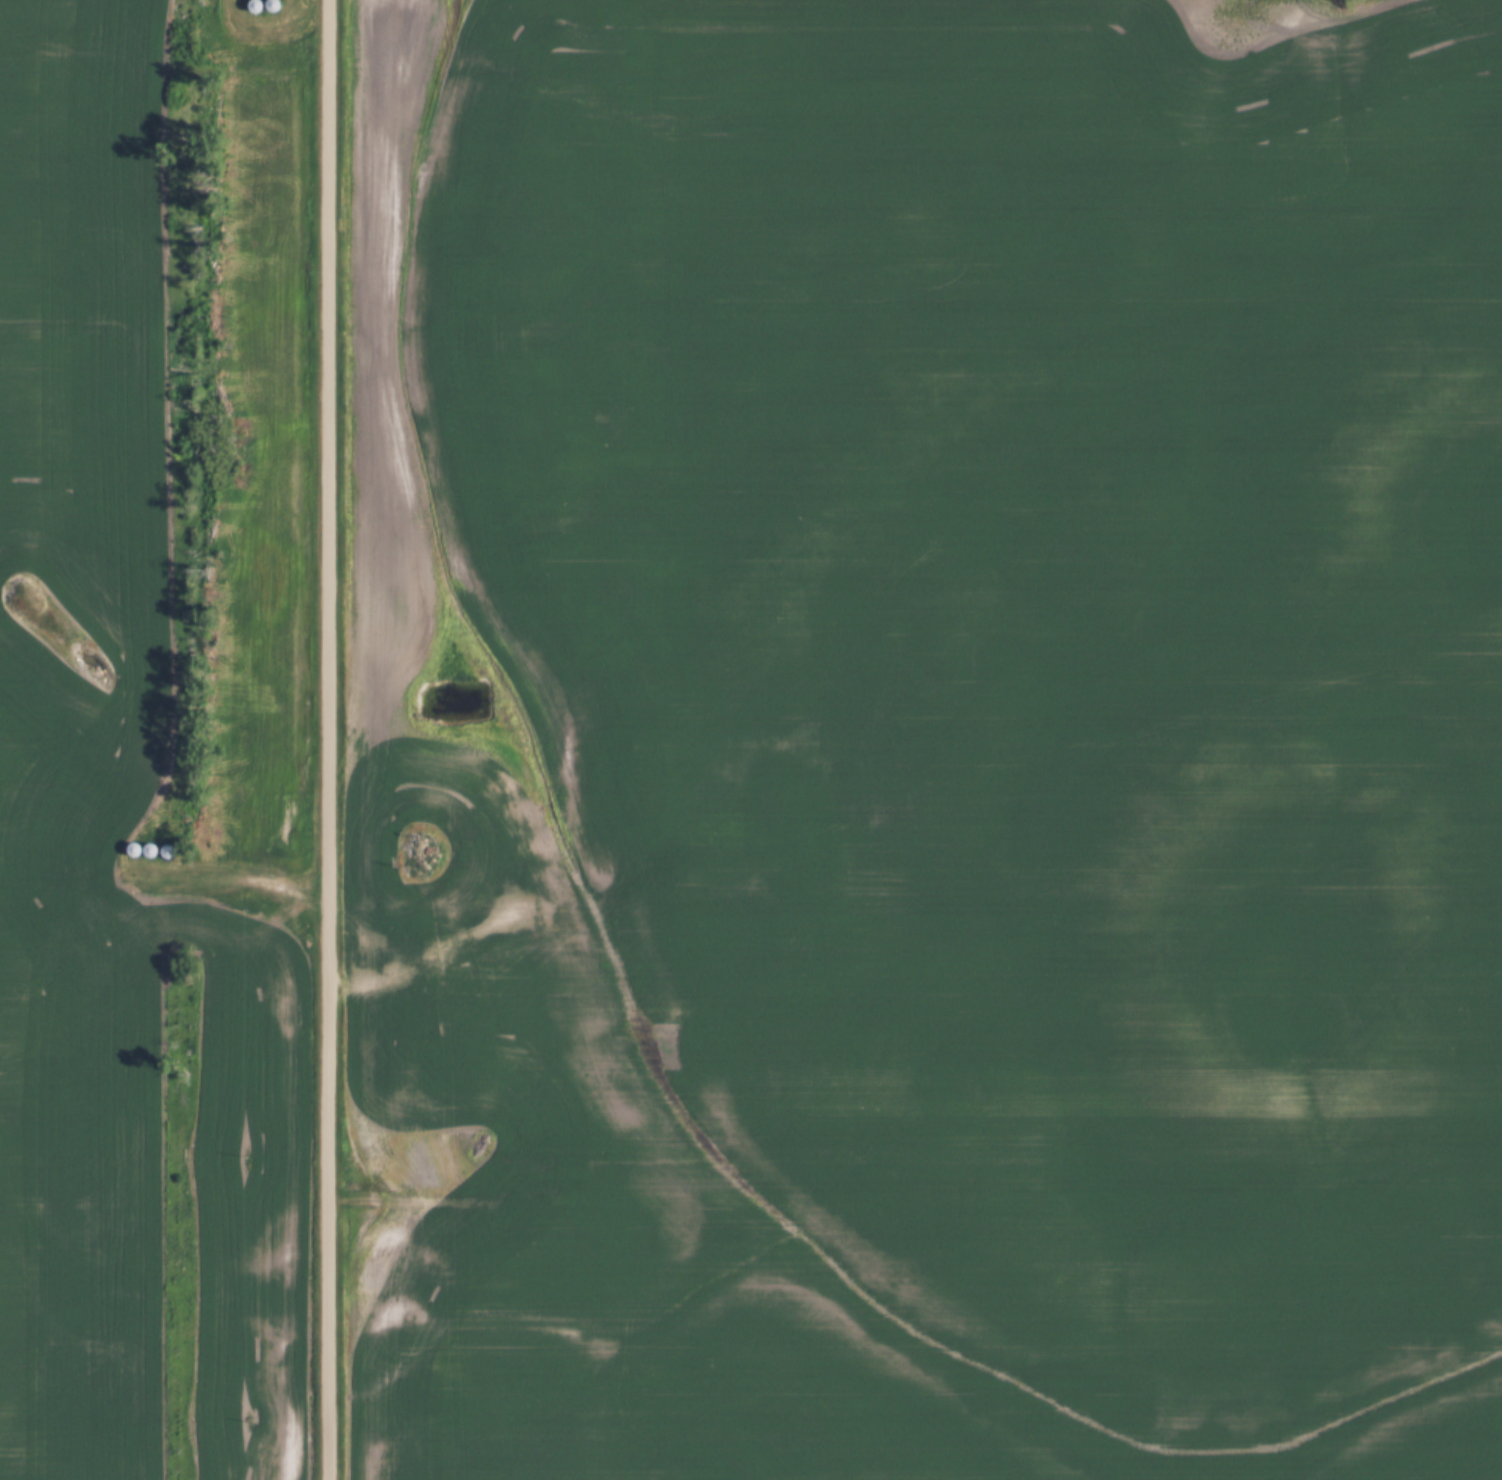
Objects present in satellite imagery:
road: (328, 740)
road: (260, 884)

